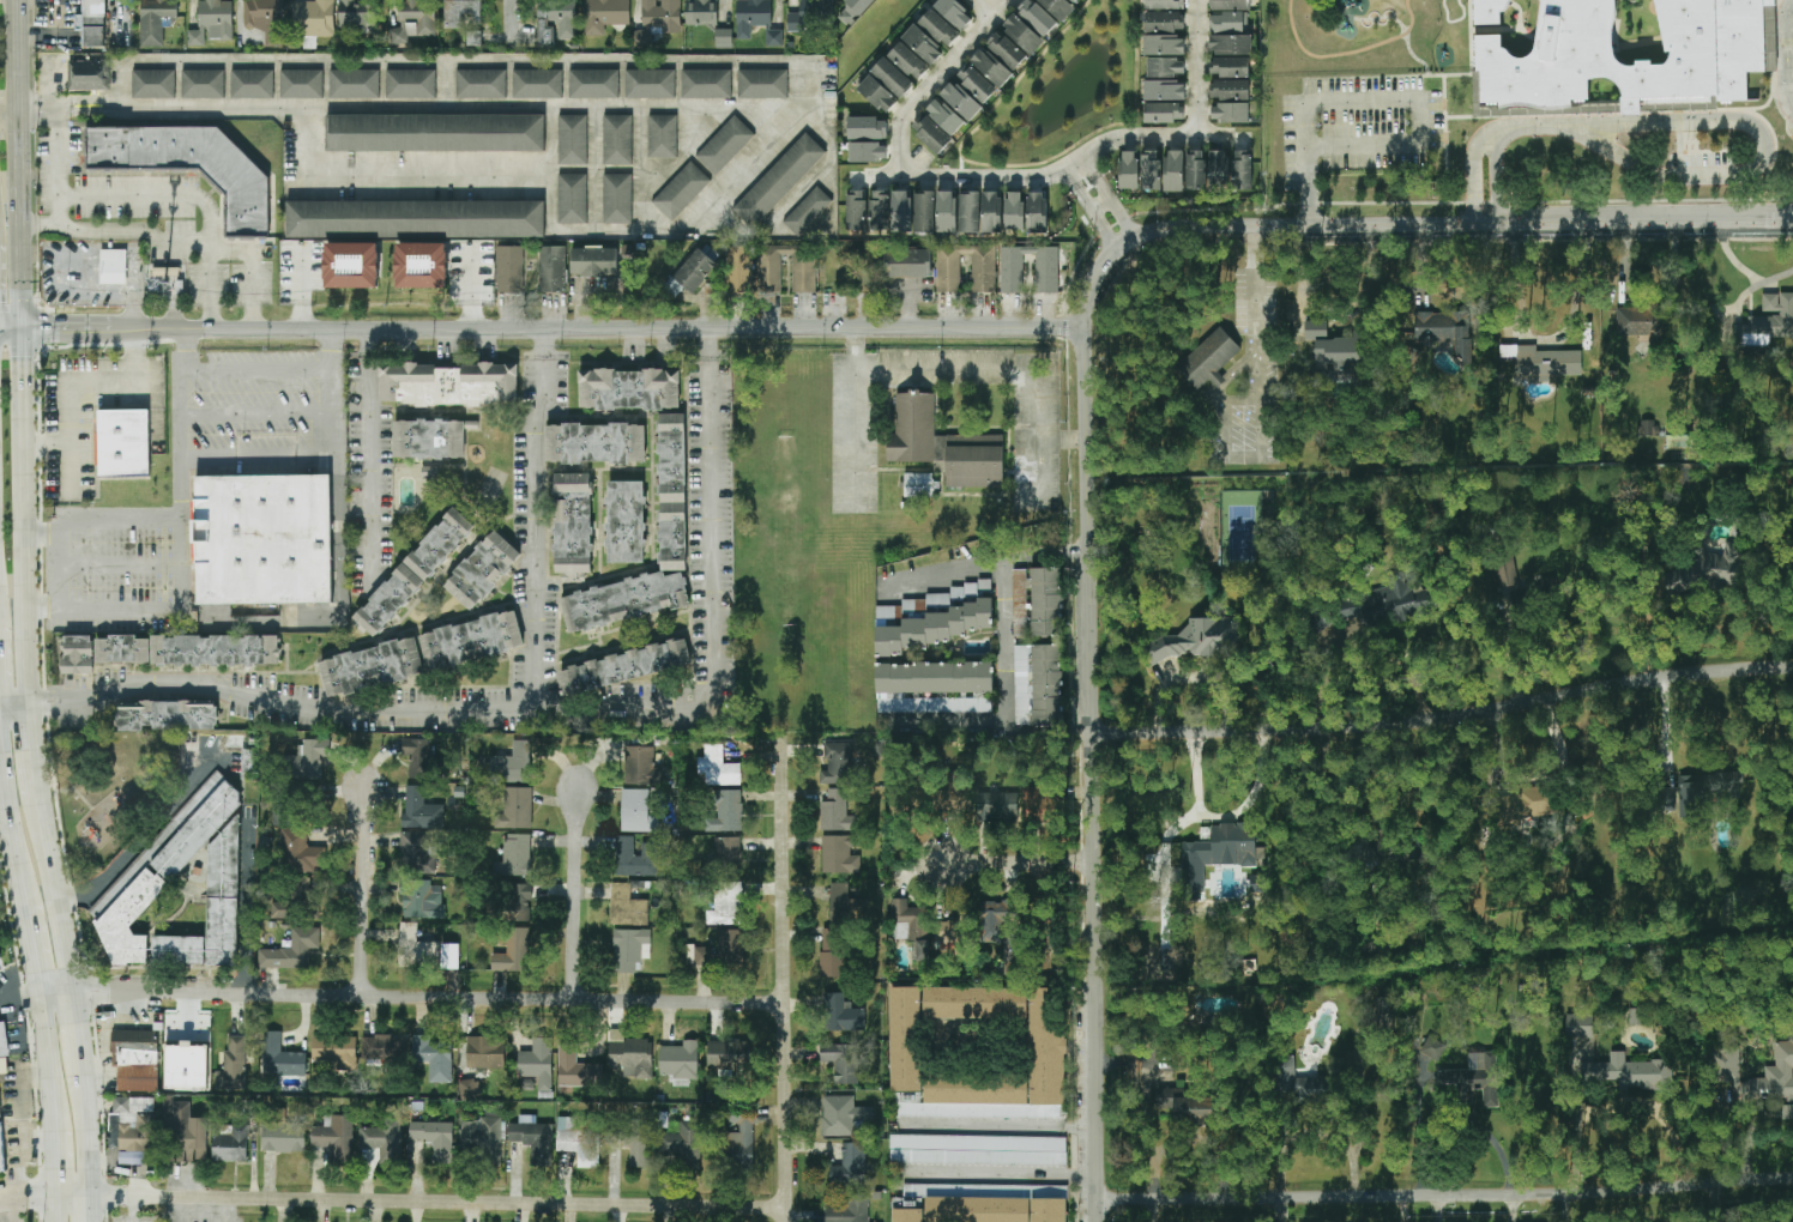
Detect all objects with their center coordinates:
building: (1075, 0)
building: (934, 1)
building: (1165, 4)
building: (1230, 5)
building: (857, 6)
road: (985, 7)
building: (1059, 7)
building: (1484, 10)
building: (461, 12)
building: (700, 12)
building: (356, 13)
building: (954, 13)
building: (662, 14)
building: (605, 16)
building: (753, 16)
building: (804, 17)
building: (1037, 17)
building: (314, 18)
building: (266, 19)
building: (156, 20)
building: (412, 20)
building: (556, 20)
road: (1454, 20)
building: (212, 22)
building: (1164, 22)
building: (1226, 22)
building: (92, 23)
road: (512, 24)
road: (1403, 26)
building: (938, 28)
building: (1024, 34)
building: (724, 36)
building: (642, 37)
building: (774, 37)
building: (473, 38)
building: (923, 44)
building: (1165, 44)
building: (1231, 44)
building: (1006, 49)
road: (1346, 53)
road: (1785, 55)
building: (1709, 56)
road: (459, 61)
building: (908, 61)
building: (1230, 66)
building: (991, 67)
building: (1166, 67)
road: (1196, 69)
building: (89, 74)
road: (1425, 74)
fountain: (1087, 78)
building: (539, 81)
road: (935, 81)
building: (153, 83)
building: (354, 83)
building: (411, 83)
building: (593, 83)
building: (976, 83)
building: (204, 84)
building: (253, 84)
building: (302, 84)
road: (445, 84)
building: (482, 84)
building: (652, 84)
building: (707, 84)
building: (763, 84)
building: (886, 85)
building: (1230, 89)
building: (1165, 90)
road: (1401, 99)
building: (961, 101)
road: (412, 107)
road: (10, 110)
building: (1164, 113)
building: (1230, 113)
building: (944, 116)
road: (701, 122)
building: (435, 132)
building: (931, 133)
building: (663, 135)
building: (620, 138)
building: (573, 139)
building: (868, 139)
building: (725, 144)
road: (61, 153)
road: (19, 164)
road: (1091, 165)
building: (191, 167)
road: (747, 167)
road: (640, 168)
road: (550, 169)
road: (593, 169)
building: (1129, 170)
building: (1151, 170)
building: (1196, 170)
building: (1243, 170)
building: (1175, 171)
road: (393, 174)
road: (820, 174)
road: (1472, 174)
road: (1052, 175)
road: (1741, 176)
road: (1073, 177)
building: (778, 179)
road: (1100, 180)
road: (1496, 180)
building: (681, 190)
road: (1081, 193)
road: (181, 198)
building: (570, 198)
building: (618, 198)
road: (1310, 200)
road: (1112, 201)
road: (834, 202)
building: (807, 210)
building: (869, 211)
building: (901, 211)
building: (924, 211)
building: (947, 211)
building: (1014, 211)
building: (970, 212)
building: (991, 212)
building: (1037, 212)
road: (1093, 213)
building: (415, 218)
road: (1311, 219)
road: (1129, 226)
road: (1409, 226)
road: (657, 231)
road: (1109, 238)
road: (174, 241)
building: (594, 261)
building: (907, 262)
building: (352, 265)
building: (422, 265)
building: (114, 266)
building: (553, 268)
building: (509, 270)
building: (741, 270)
road: (1744, 270)
building: (693, 273)
building: (804, 273)
building: (948, 273)
building: (1012, 273)
road: (131, 288)
road: (1261, 291)
road: (1649, 294)
building: (1644, 321)
road: (553, 328)
road: (11, 329)
traffic signals: (23, 329)
building: (1445, 331)
road: (1545, 339)
road: (369, 343)
road: (531, 344)
road: (718, 344)
building: (1339, 355)
building: (1209, 359)
building: (1543, 361)
road: (1012, 371)
road: (259, 374)
road: (86, 383)
building: (447, 383)
road: (1262, 386)
building: (628, 391)
road: (259, 411)
road: (856, 418)
road: (185, 425)
building: (1648, 428)
building: (430, 441)
building: (1679, 441)
road: (46, 443)
building: (122, 444)
building: (594, 444)
building: (943, 444)
road: (259, 454)
road: (370, 467)
building: (918, 484)
building: (672, 488)
road: (23, 520)
road: (122, 521)
road: (11, 524)
building: (572, 524)
building: (626, 524)
park: (1242, 530)
road: (42, 533)
road: (532, 537)
building: (261, 542)
road: (1075, 550)
road: (337, 553)
road: (976, 561)
road: (122, 563)
road: (64, 565)
road: (182, 565)
building: (1711, 568)
building: (482, 571)
building: (1504, 573)
building: (411, 574)
building: (1402, 600)
building: (1019, 601)
building: (1046, 601)
building: (624, 603)
building: (1351, 607)
road: (102, 610)
building: (932, 618)
building: (1199, 640)
road: (1003, 641)
road: (1509, 647)
building: (163, 652)
building: (421, 657)
building: (624, 667)
building: (934, 677)
building: (1038, 685)
road: (61, 709)
road: (14, 710)
building: (922, 710)
road: (580, 716)
building: (167, 718)
road: (1442, 718)
road: (979, 726)
road: (1079, 728)
road: (1664, 731)
road: (32, 750)
building: (312, 757)
building: (423, 760)
building: (837, 763)
building: (513, 764)
building: (642, 767)
building: (718, 767)
road: (1088, 774)
road: (1534, 779)
park: (109, 790)
building: (1707, 791)
building: (953, 798)
building: (1038, 805)
building: (1526, 805)
building: (997, 806)
building: (515, 809)
building: (421, 810)
building: (726, 810)
building: (838, 811)
building: (638, 812)
road: (8, 819)
road: (5, 829)
road: (140, 839)
building: (1221, 848)
building: (301, 849)
building: (728, 851)
building: (416, 853)
building: (518, 854)
building: (840, 854)
building: (635, 858)
road: (1016, 863)
building: (147, 877)
road: (56, 891)
road: (360, 894)
road: (576, 894)
building: (294, 900)
building: (422, 900)
building: (521, 901)
building: (728, 905)
building: (846, 906)
building: (627, 907)
road: (246, 909)
building: (996, 918)
building: (910, 926)
building: (416, 944)
building: (731, 946)
building: (630, 949)
building: (292, 950)
road: (31, 951)
building: (513, 951)
building: (0, 952)
building: (833, 952)
building: (449, 956)
building: (702, 956)
road: (784, 979)
road: (18, 993)
road: (56, 994)
road: (429, 996)
building: (843, 1014)
building: (1637, 1016)
building: (1580, 1024)
road: (78, 1028)
building: (4, 1040)
building: (1046, 1046)
building: (384, 1048)
building: (1433, 1048)
building: (337, 1052)
building: (485, 1052)
building: (728, 1054)
building: (629, 1055)
building: (280, 1057)
building: (434, 1058)
building: (137, 1059)
road: (46, 1061)
building: (680, 1061)
building: (841, 1061)
building: (537, 1063)
building: (4, 1065)
building: (187, 1066)
building: (233, 1066)
building: (578, 1069)
building: (1779, 1070)
building: (1630, 1072)
building: (1474, 1077)
building: (470, 1089)
building: (1315, 1089)
road: (1622, 1100)
building: (1787, 1112)
building: (841, 1115)
road: (997, 1126)
building: (135, 1127)
road: (86, 1129)
building: (187, 1132)
building: (283, 1133)
building: (336, 1138)
building: (434, 1138)
building: (483, 1138)
building: (533, 1138)
building: (739, 1138)
building: (384, 1142)
building: (579, 1142)
building: (682, 1143)
building: (231, 1144)
building: (1, 1149)
building: (638, 1149)
building: (978, 1150)
road: (53, 1163)
building: (850, 1166)
road: (997, 1173)
road: (1444, 1193)
road: (72, 1197)
road: (26, 1198)
road: (439, 1202)
building: (984, 1204)
road: (1563, 1206)
road: (1435, 1208)
road: (1511, 1208)
road: (54, 1209)
road: (90, 1209)
building: (851, 1209)
road: (1403, 1209)
road: (1280, 1210)

